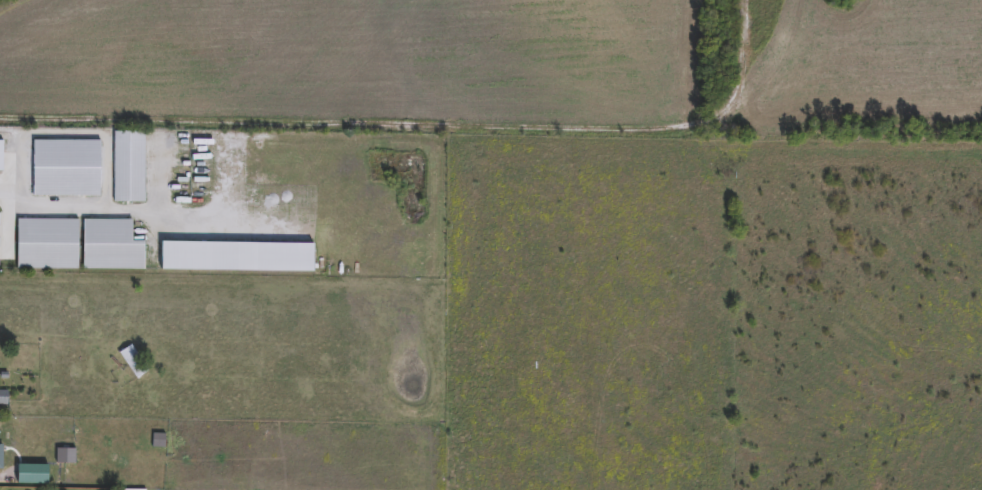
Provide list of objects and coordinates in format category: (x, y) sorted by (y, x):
building: (1, 157)
building: (129, 168)
building: (66, 169)
road: (8, 191)
building: (48, 244)
building: (111, 246)
building: (132, 362)
building: (2, 398)
building: (63, 457)

